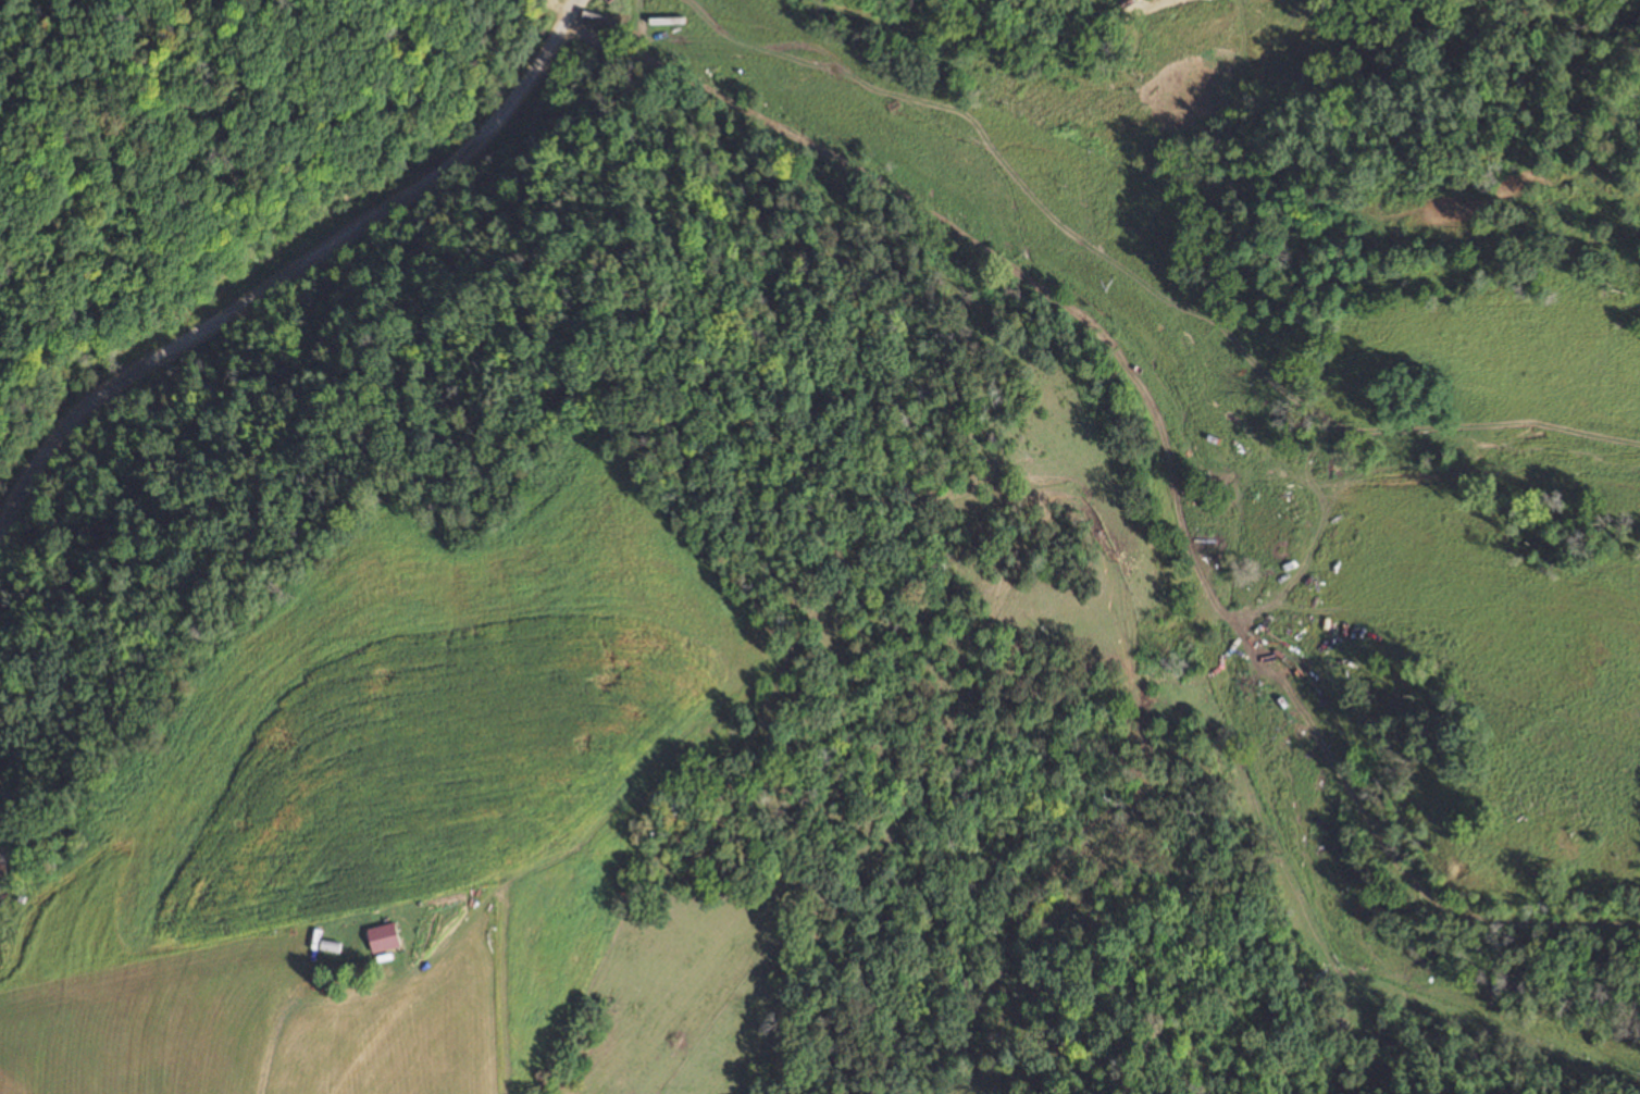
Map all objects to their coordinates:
road: (303, 303)
road: (1118, 532)
building: (381, 938)
building: (328, 943)
road: (509, 1004)

